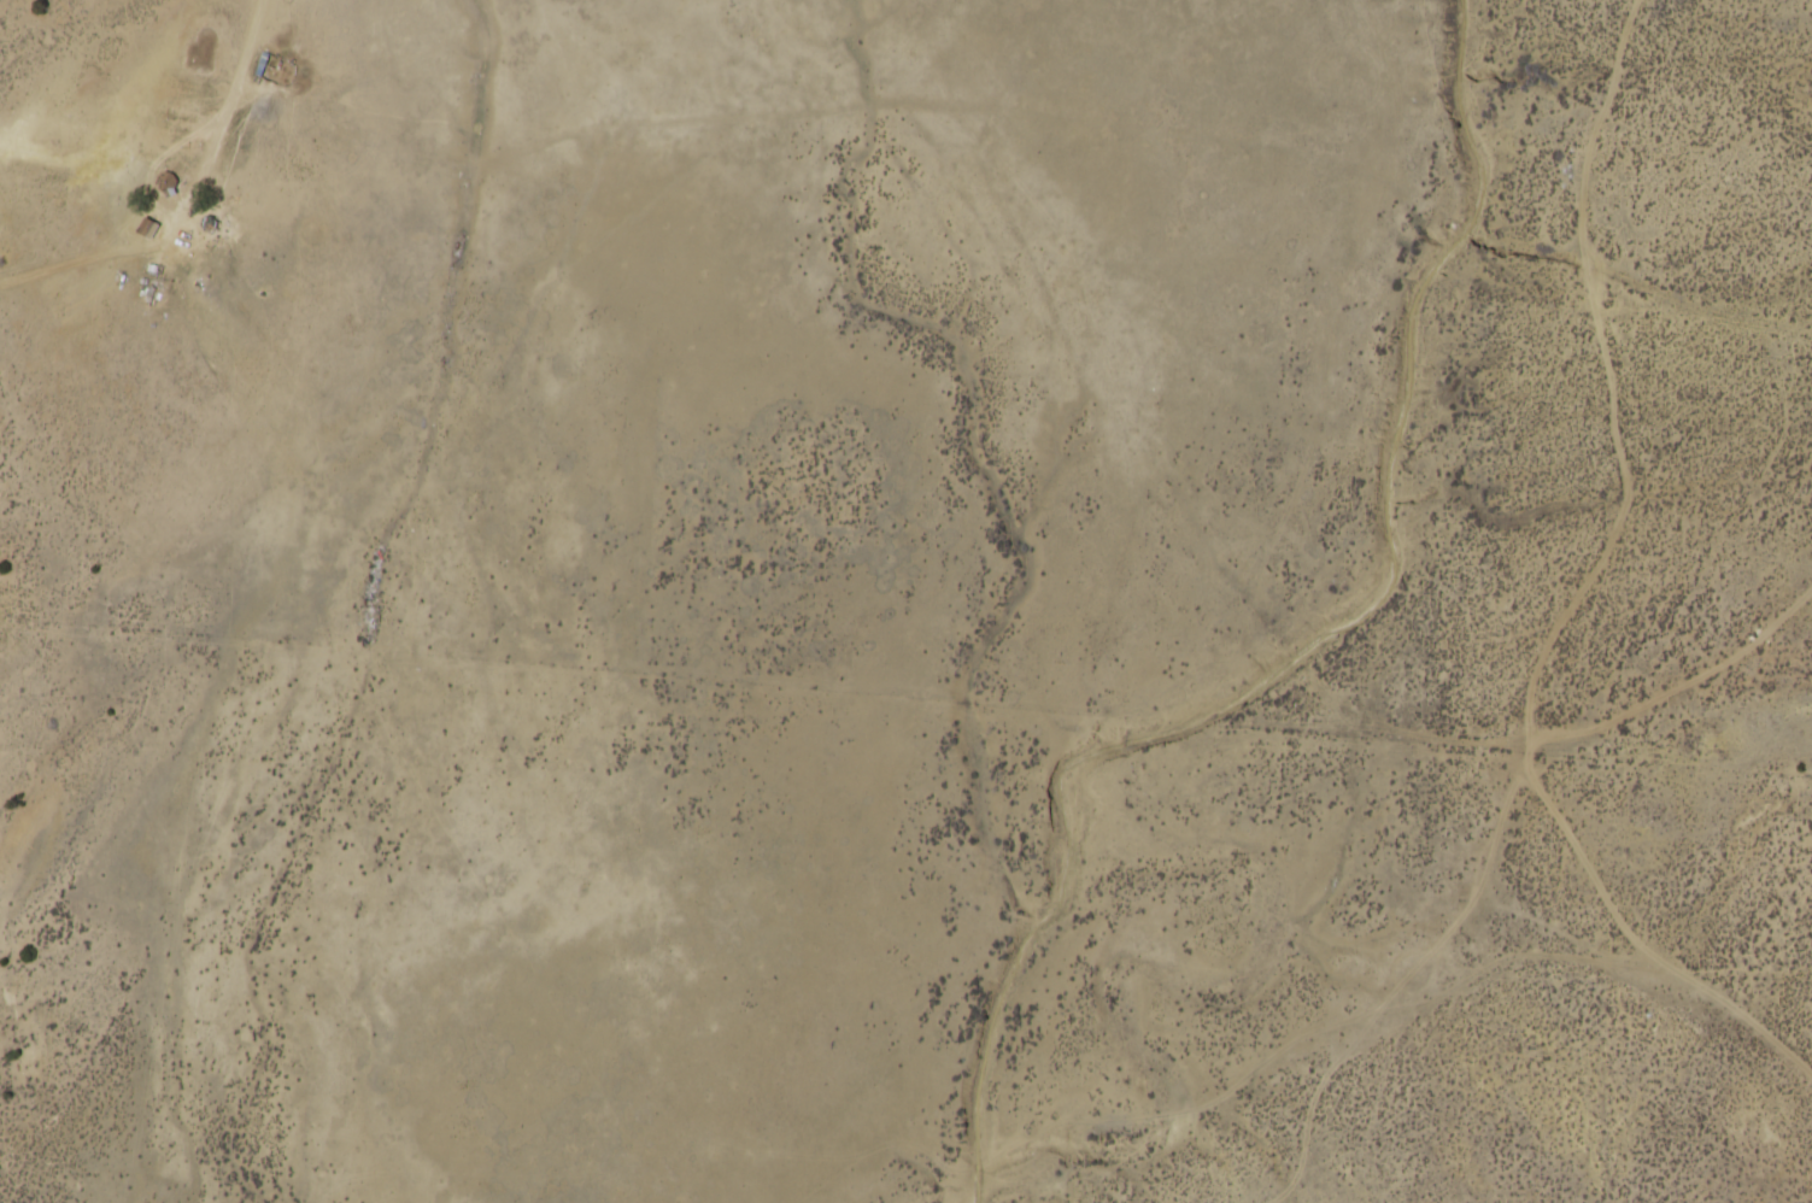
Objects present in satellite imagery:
building: (122, 149)
road: (463, 339)

